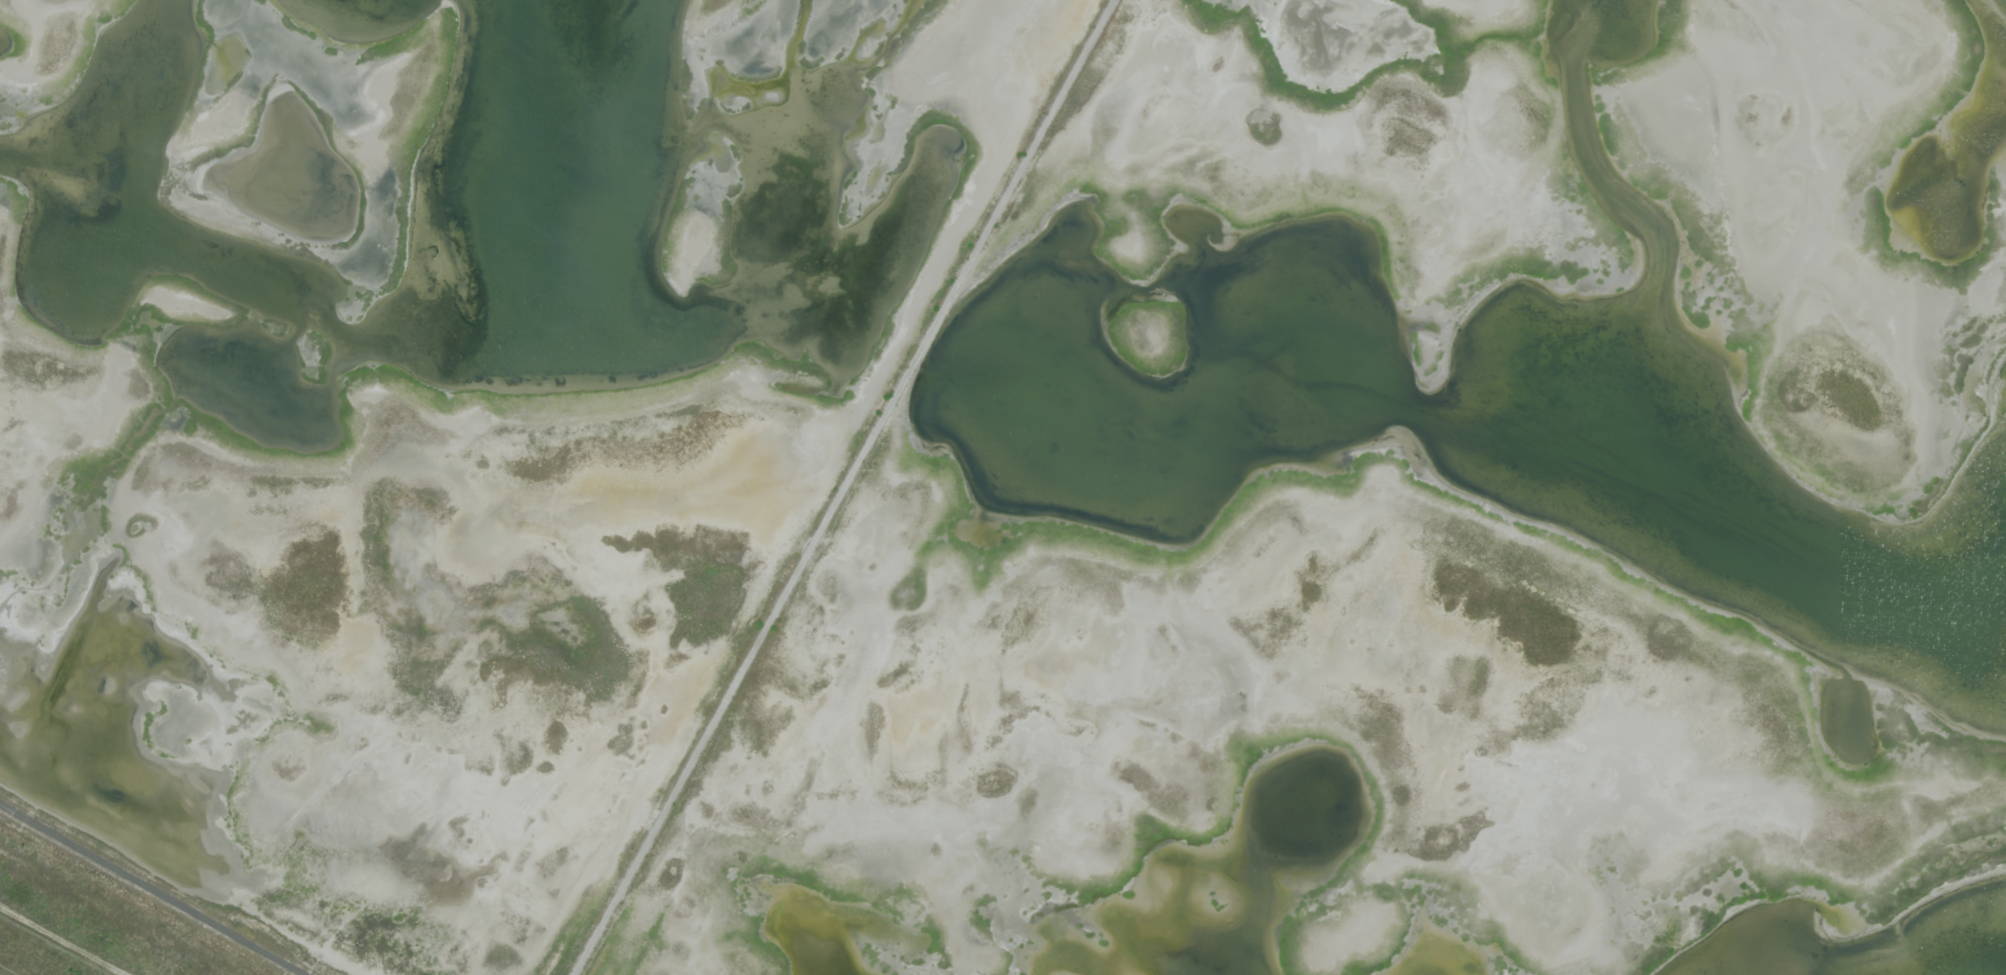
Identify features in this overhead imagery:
road: (842, 487)
power plant: (1003, 487)
road: (153, 889)

